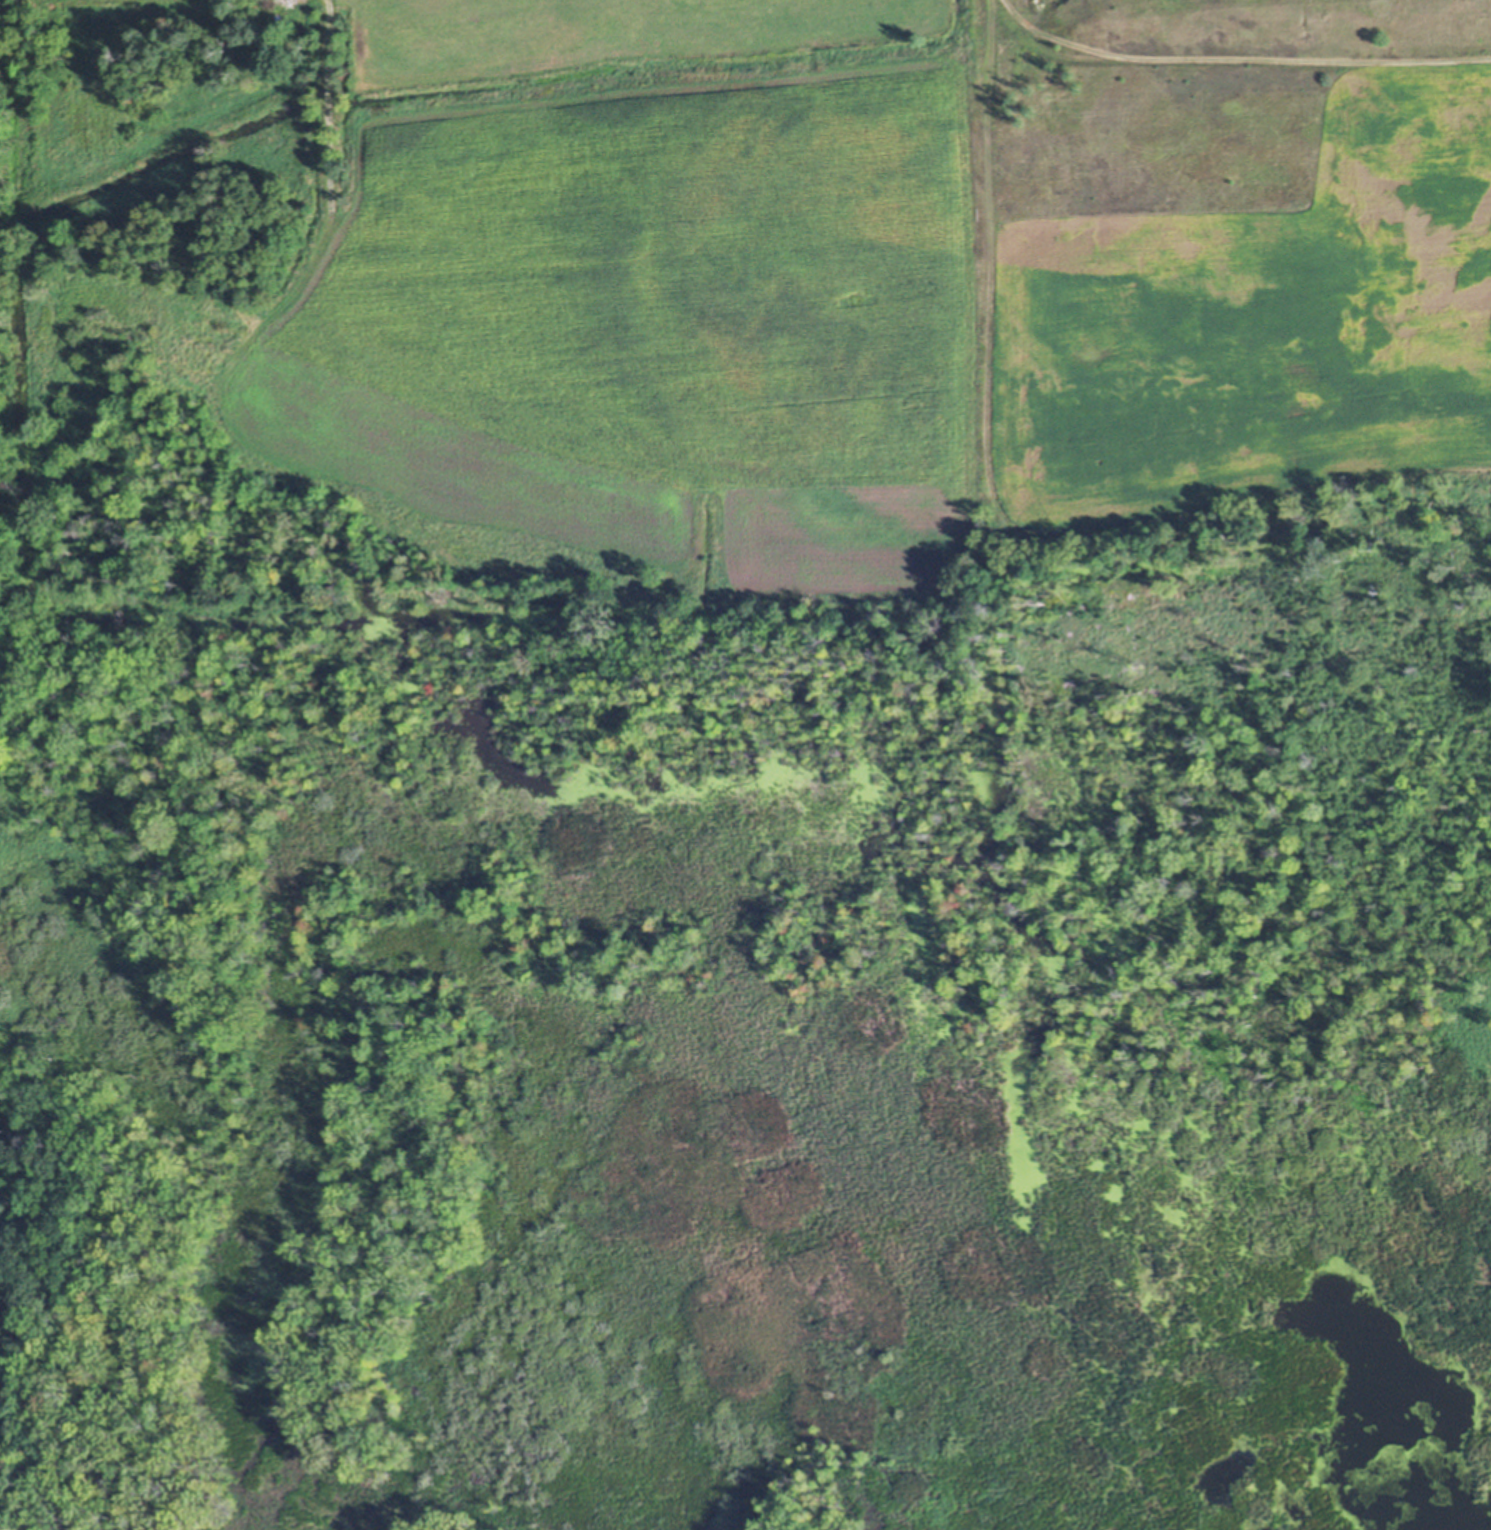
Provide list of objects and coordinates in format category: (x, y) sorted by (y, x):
road: (319, 36)
road: (1234, 58)
road: (322, 97)
road: (324, 166)

